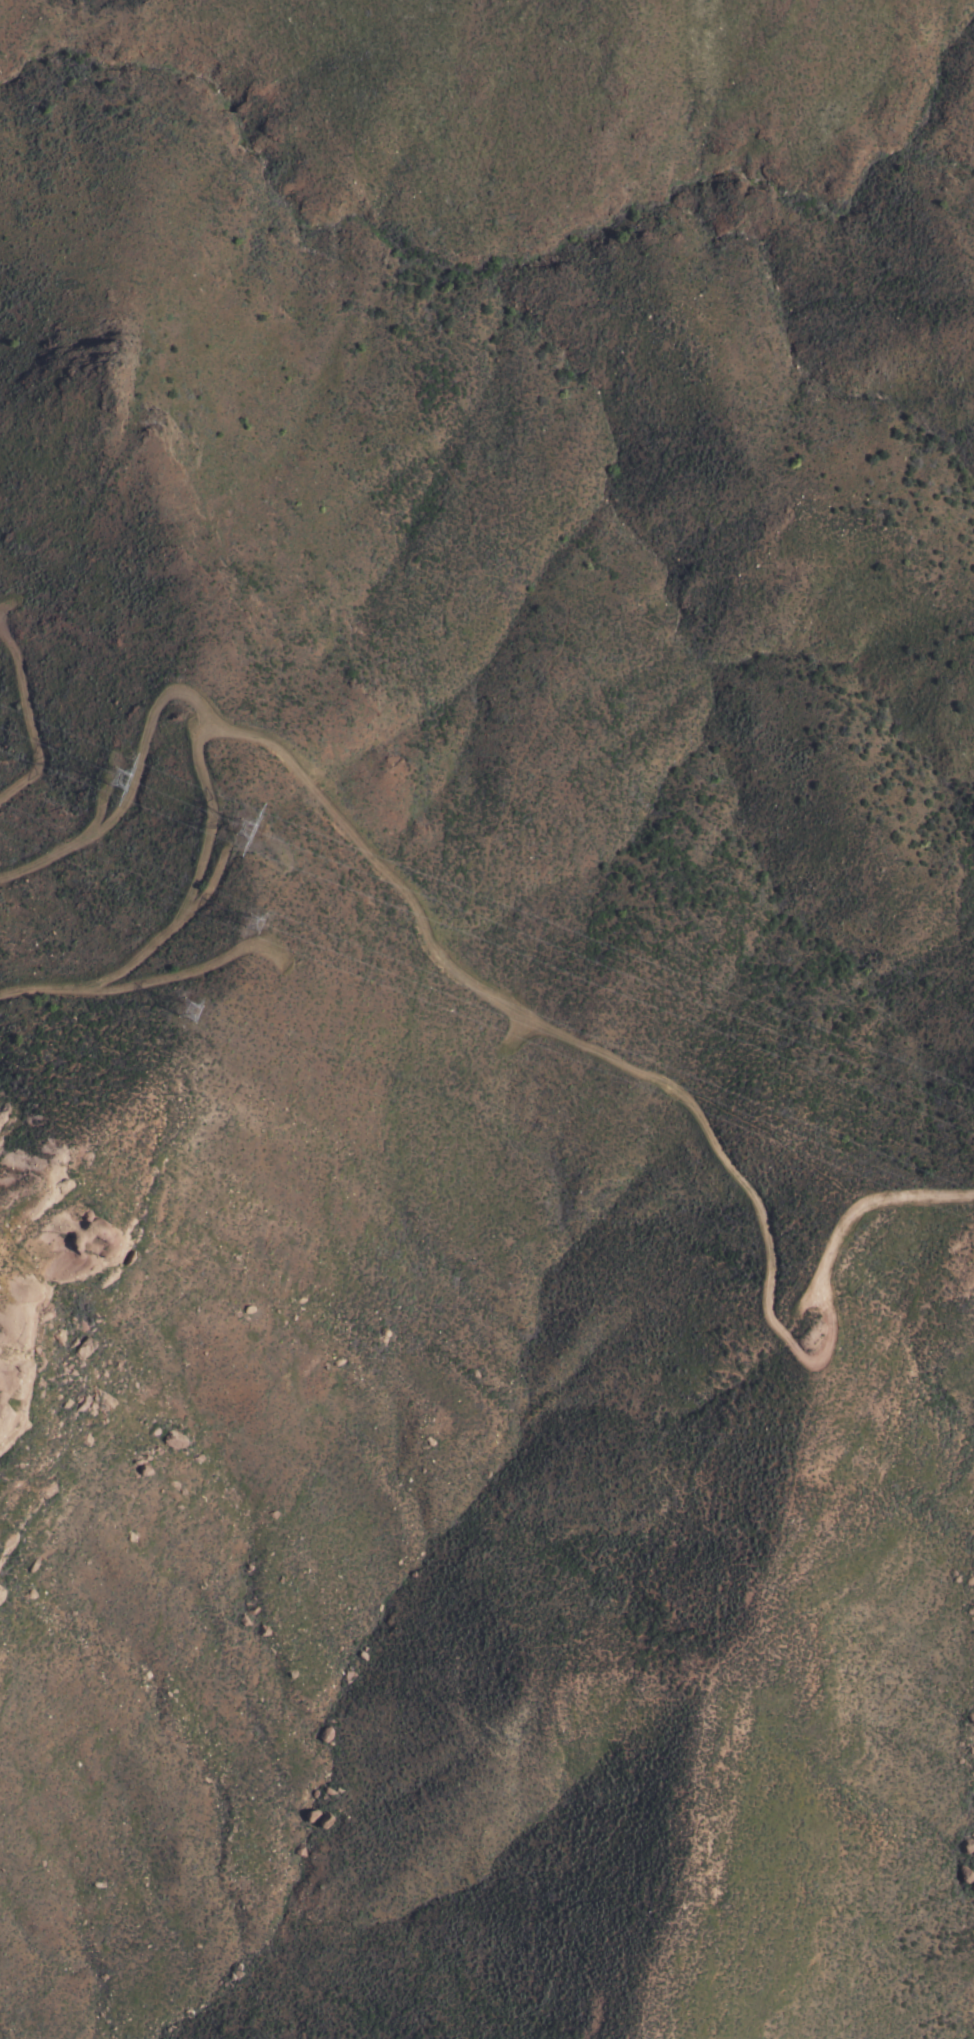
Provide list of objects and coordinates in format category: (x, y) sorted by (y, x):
power tower: (115, 779)
power tower: (242, 825)
power tower: (255, 926)
power tower: (188, 1015)
building: (80, 1348)
building: (172, 1440)
building: (297, 1850)

